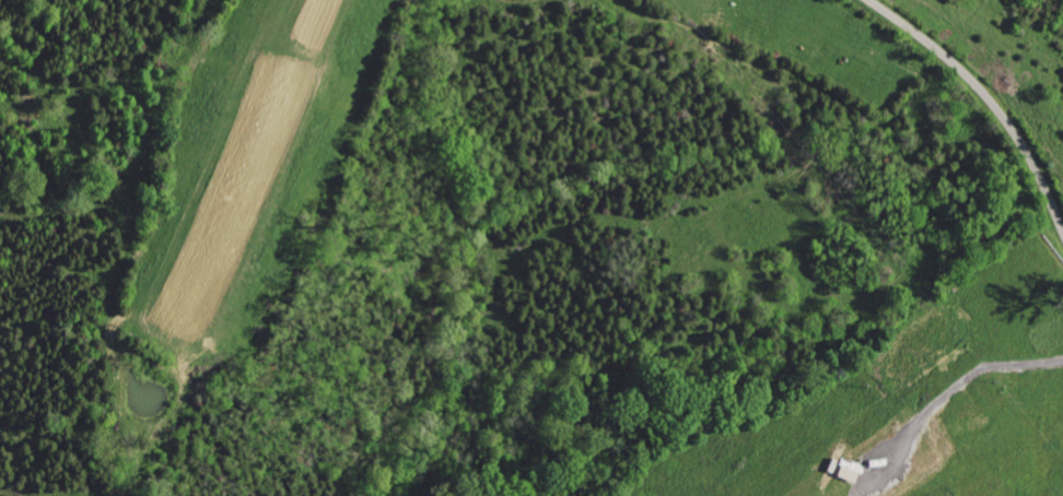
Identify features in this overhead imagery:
road: (986, 95)
road: (966, 381)
building: (846, 472)

